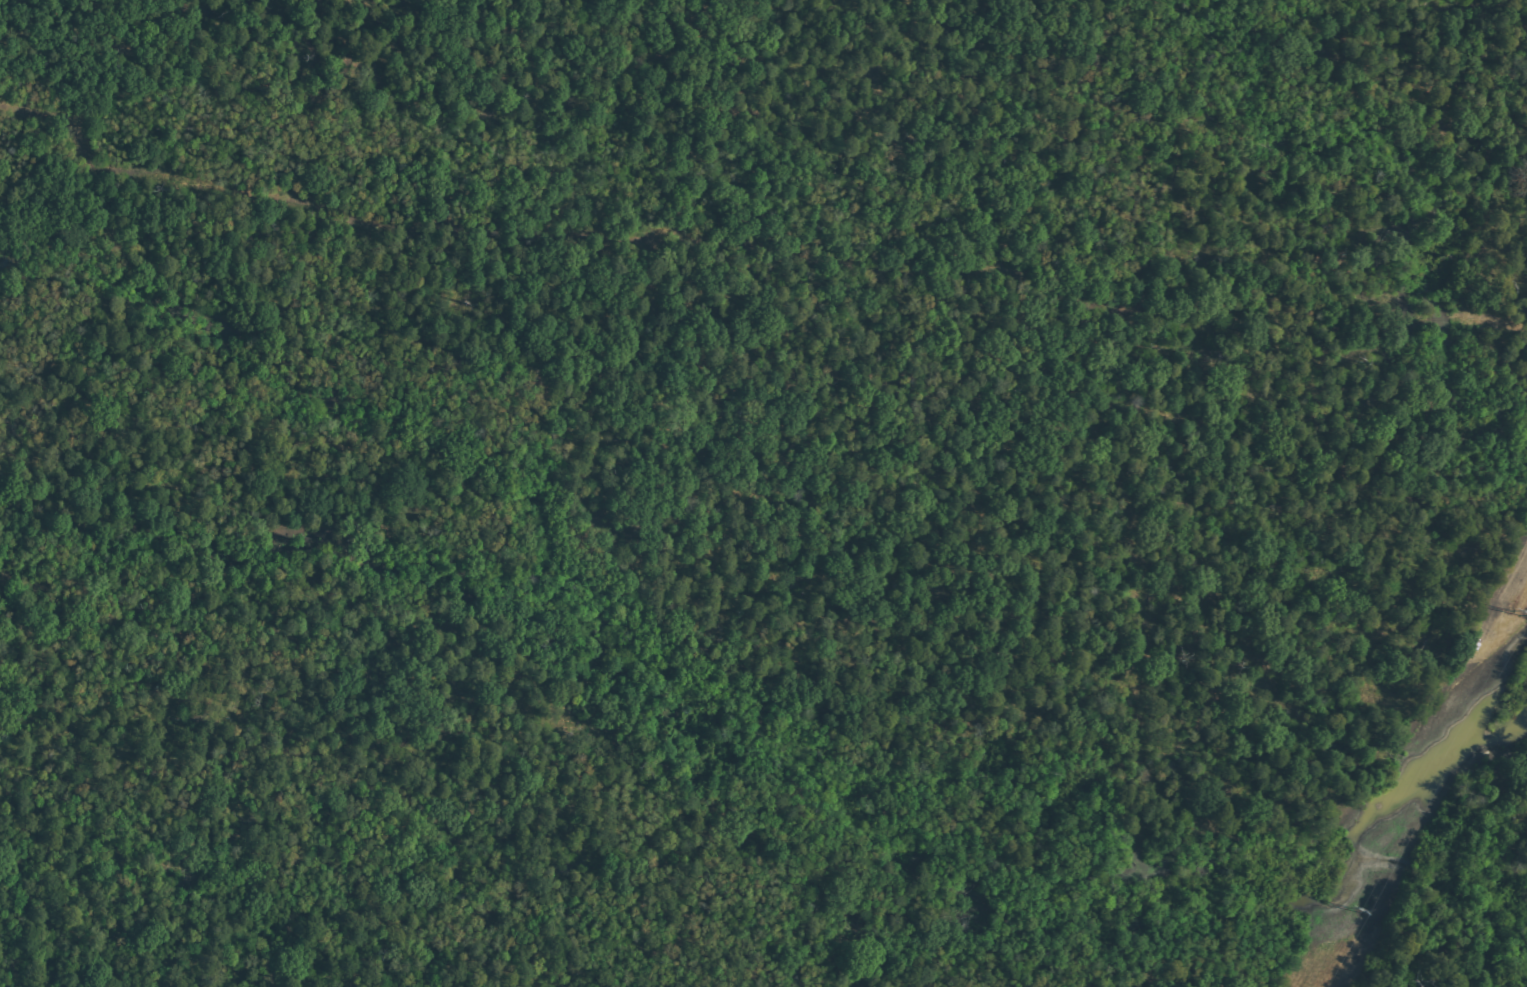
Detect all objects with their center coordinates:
power tower: (1521, 614)
power tower: (1356, 909)

